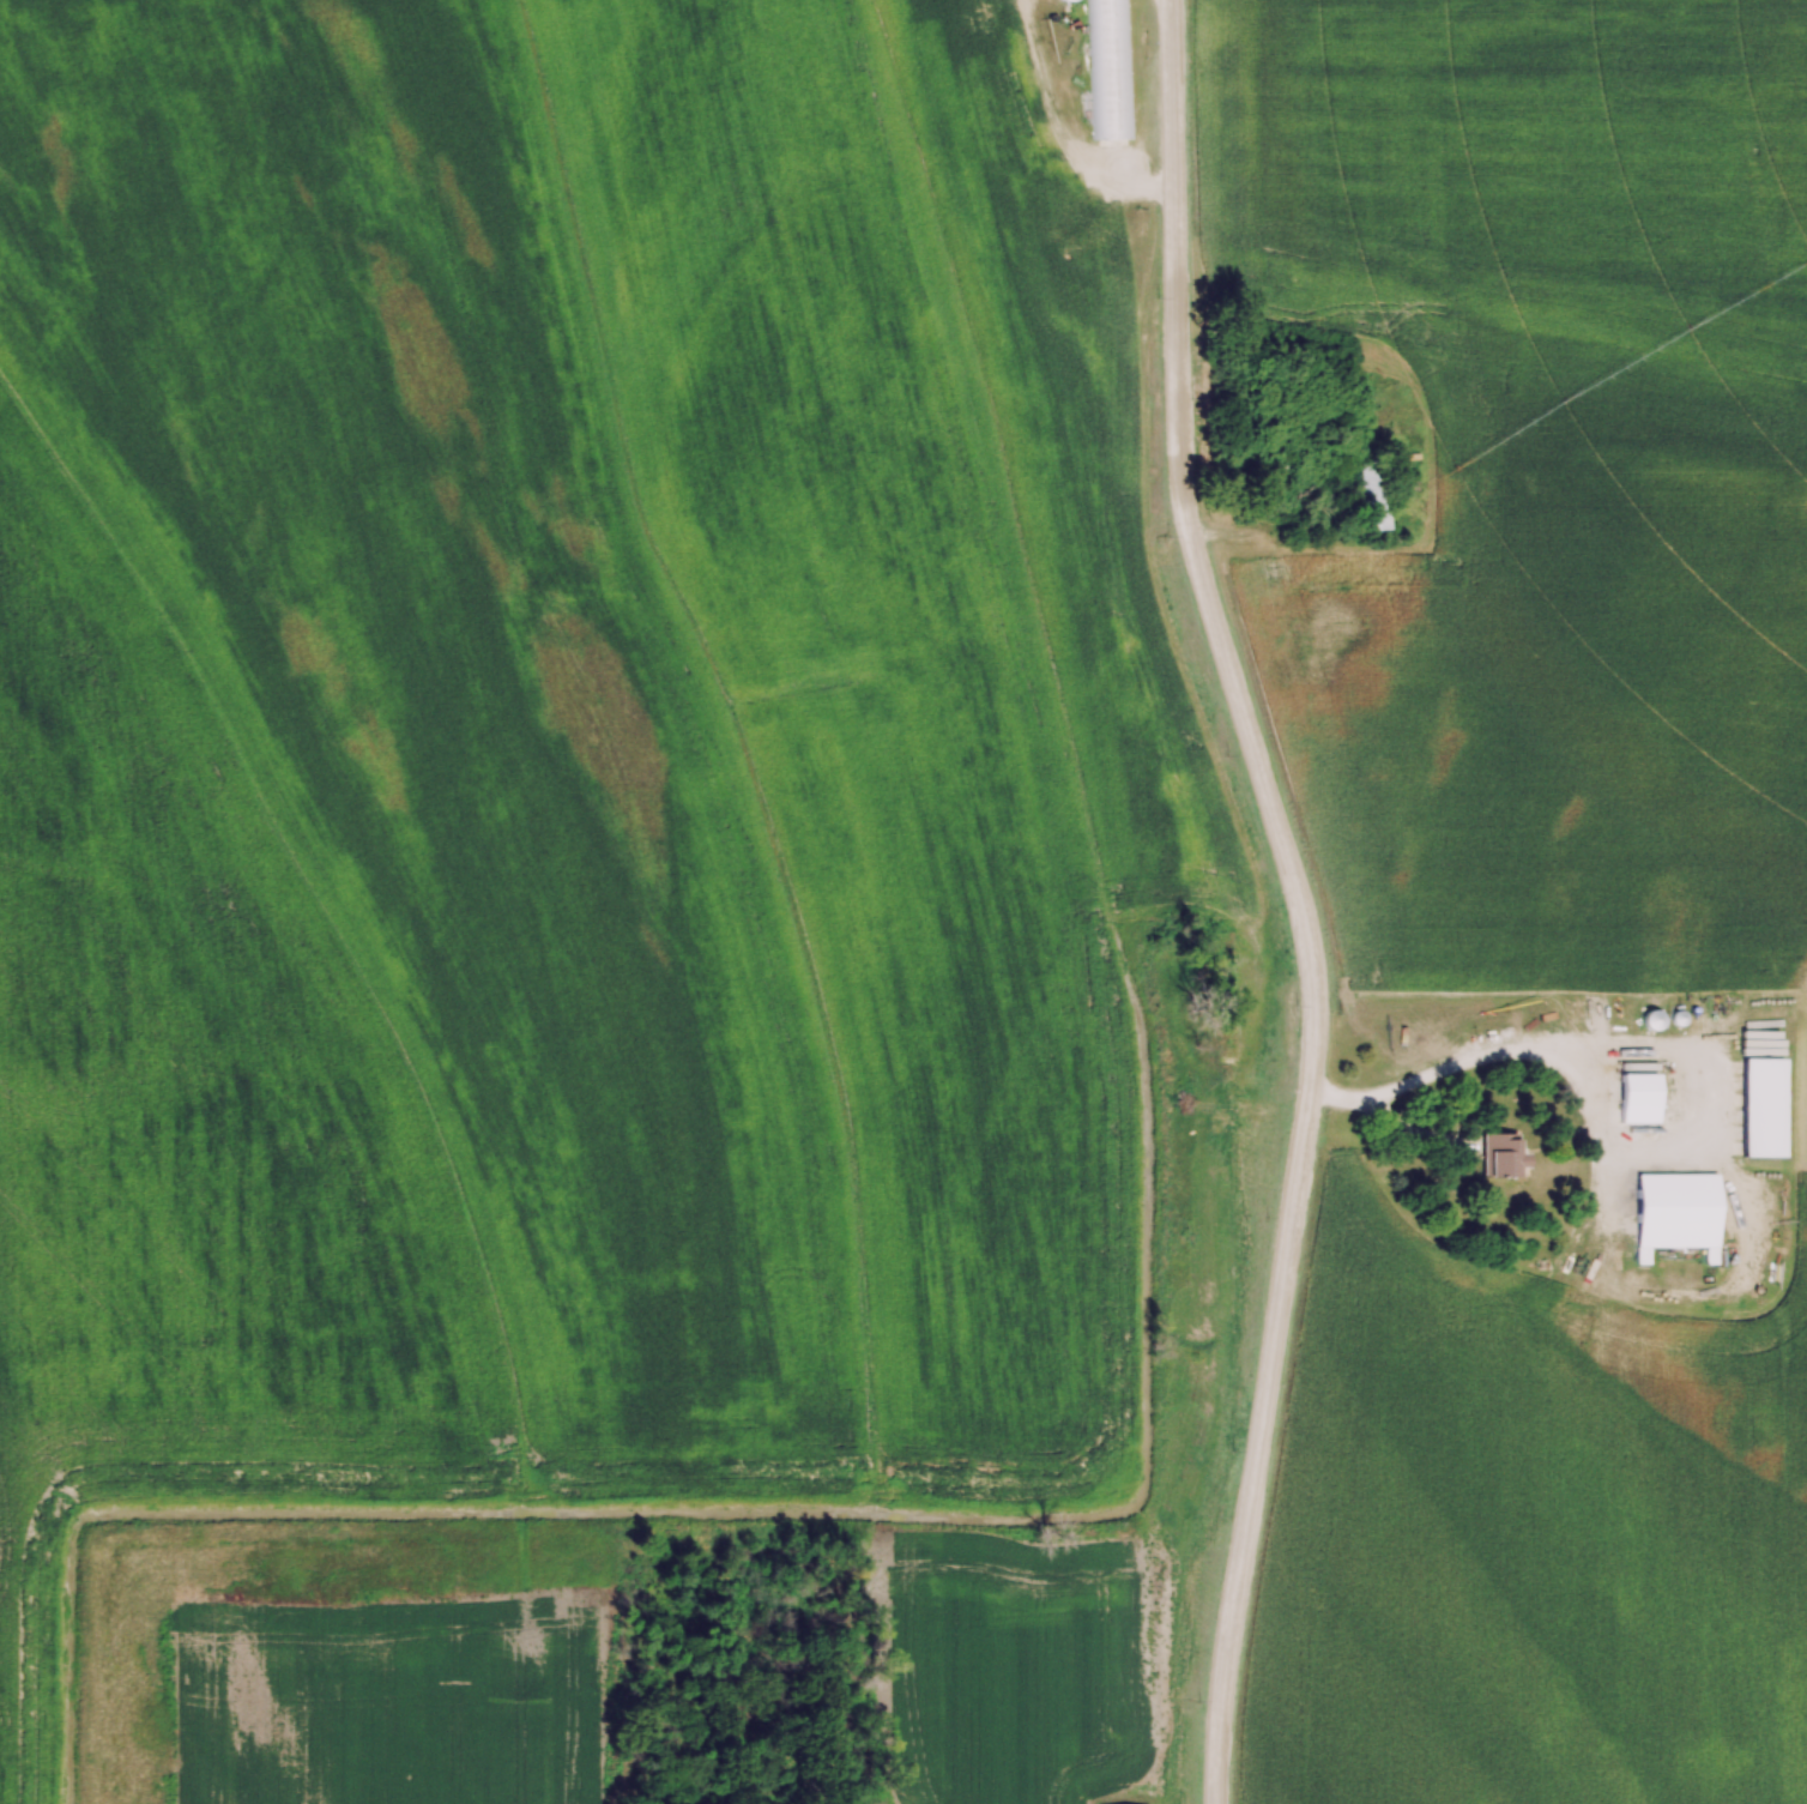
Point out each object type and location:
road: (1291, 897)
road: (1524, 1048)
road: (1380, 1121)

